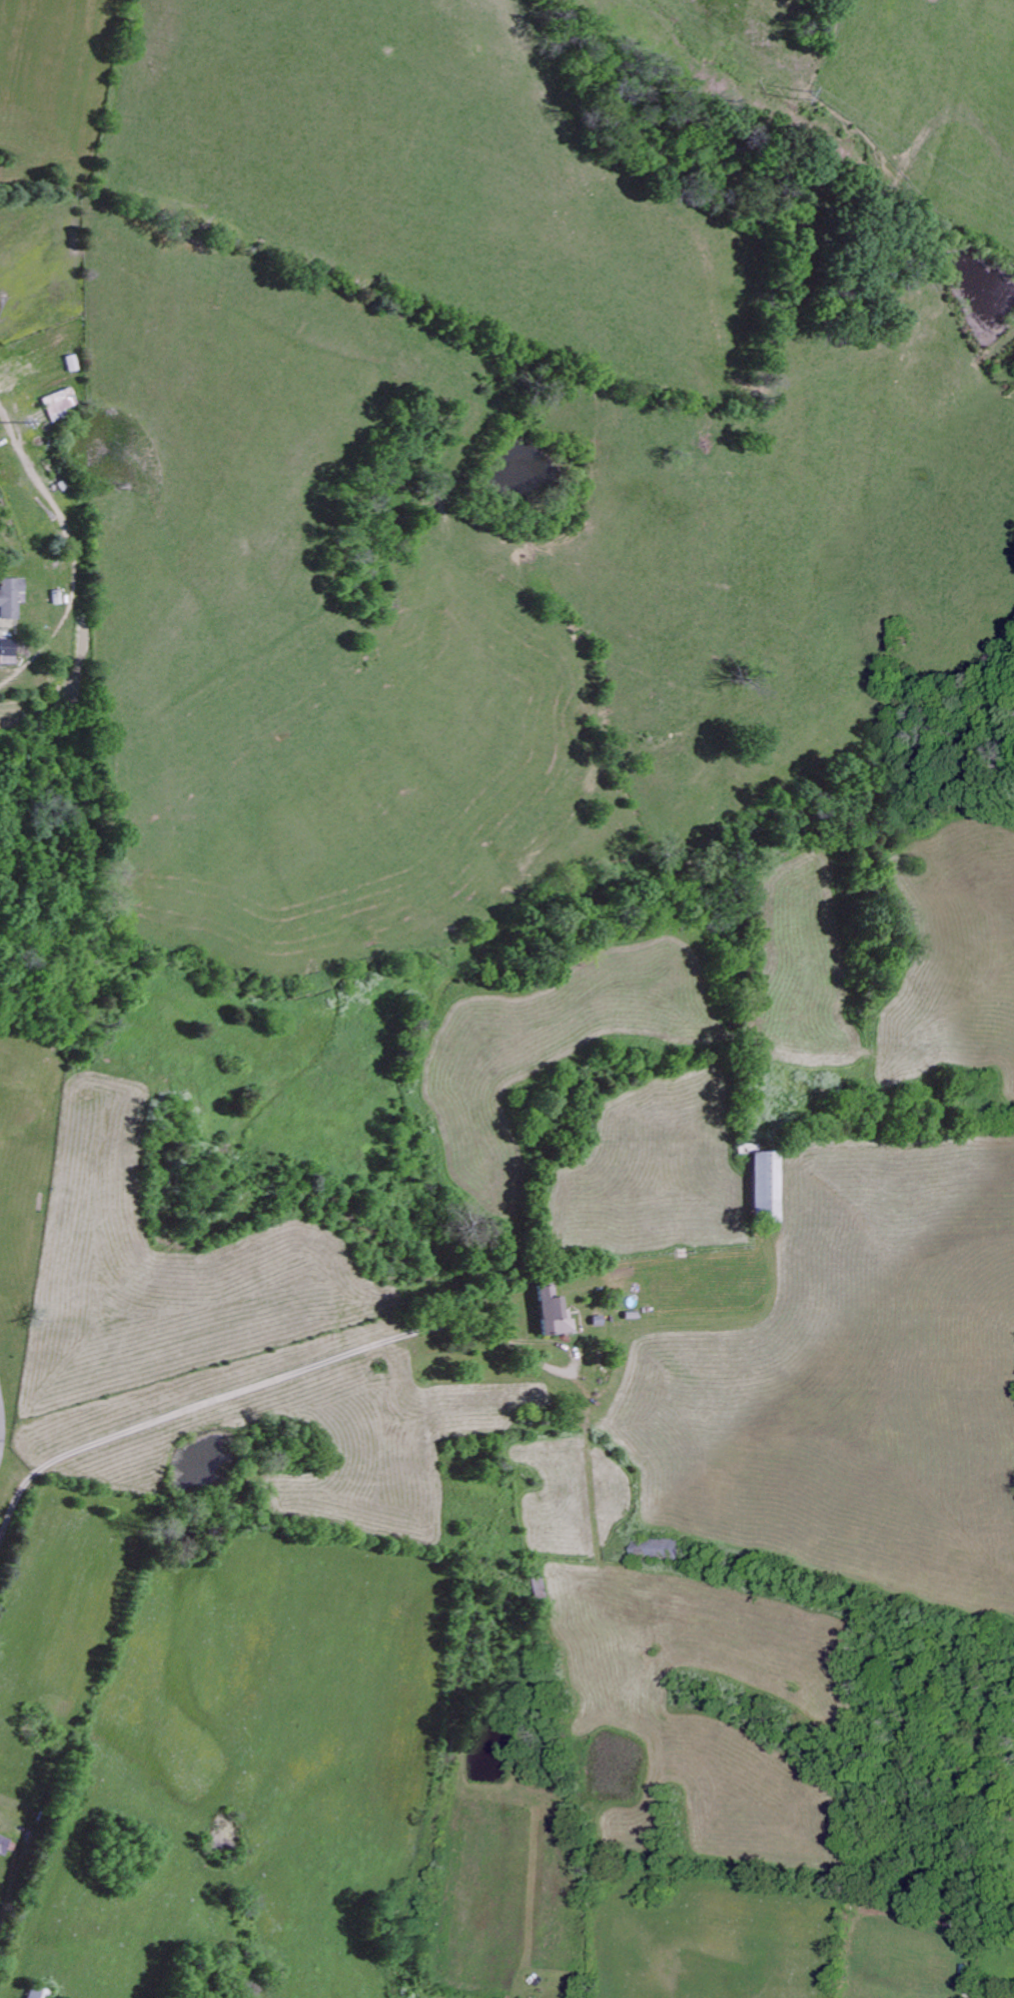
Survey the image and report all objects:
power tower: (802, 91)
building: (59, 400)
building: (9, 596)
building: (7, 650)
building: (764, 1186)
building: (548, 1311)
road: (573, 1357)
road: (230, 1388)
road: (1, 1426)
building: (3, 1843)
road: (16, 1874)
building: (34, 1992)

